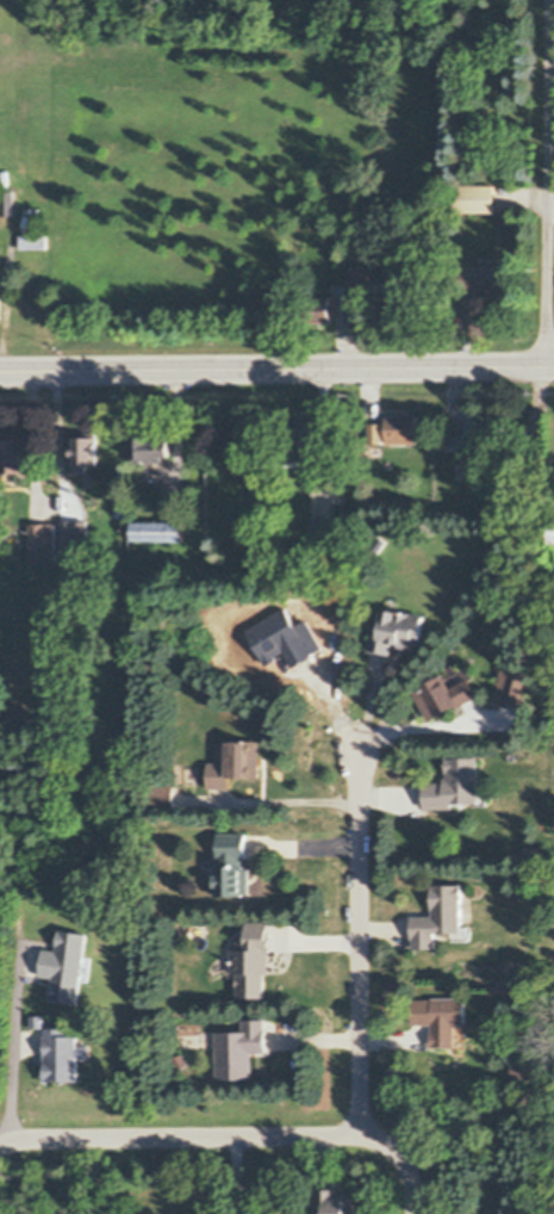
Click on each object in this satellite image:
road: (550, 184)
building: (475, 198)
building: (6, 202)
road: (552, 206)
building: (31, 219)
building: (32, 240)
building: (342, 241)
building: (361, 256)
building: (355, 258)
building: (485, 275)
building: (360, 277)
building: (386, 289)
building: (324, 308)
building: (386, 318)
road: (276, 370)
building: (396, 429)
building: (479, 431)
building: (301, 444)
building: (484, 446)
building: (151, 447)
building: (85, 450)
building: (14, 456)
building: (299, 463)
building: (540, 466)
building: (122, 507)
building: (323, 529)
building: (552, 532)
building: (73, 537)
building: (154, 538)
building: (43, 543)
building: (380, 543)
building: (397, 631)
building: (447, 695)
building: (32, 725)
building: (238, 763)
building: (457, 785)
building: (166, 797)
road: (280, 801)
building: (237, 863)
building: (441, 917)
road: (361, 942)
building: (257, 960)
building: (68, 966)
road: (18, 983)
building: (442, 1018)
building: (39, 1021)
building: (242, 1051)
building: (88, 1053)
building: (66, 1057)
building: (525, 1071)
road: (276, 1136)
road: (412, 1175)
road: (238, 1176)
building: (336, 1202)

